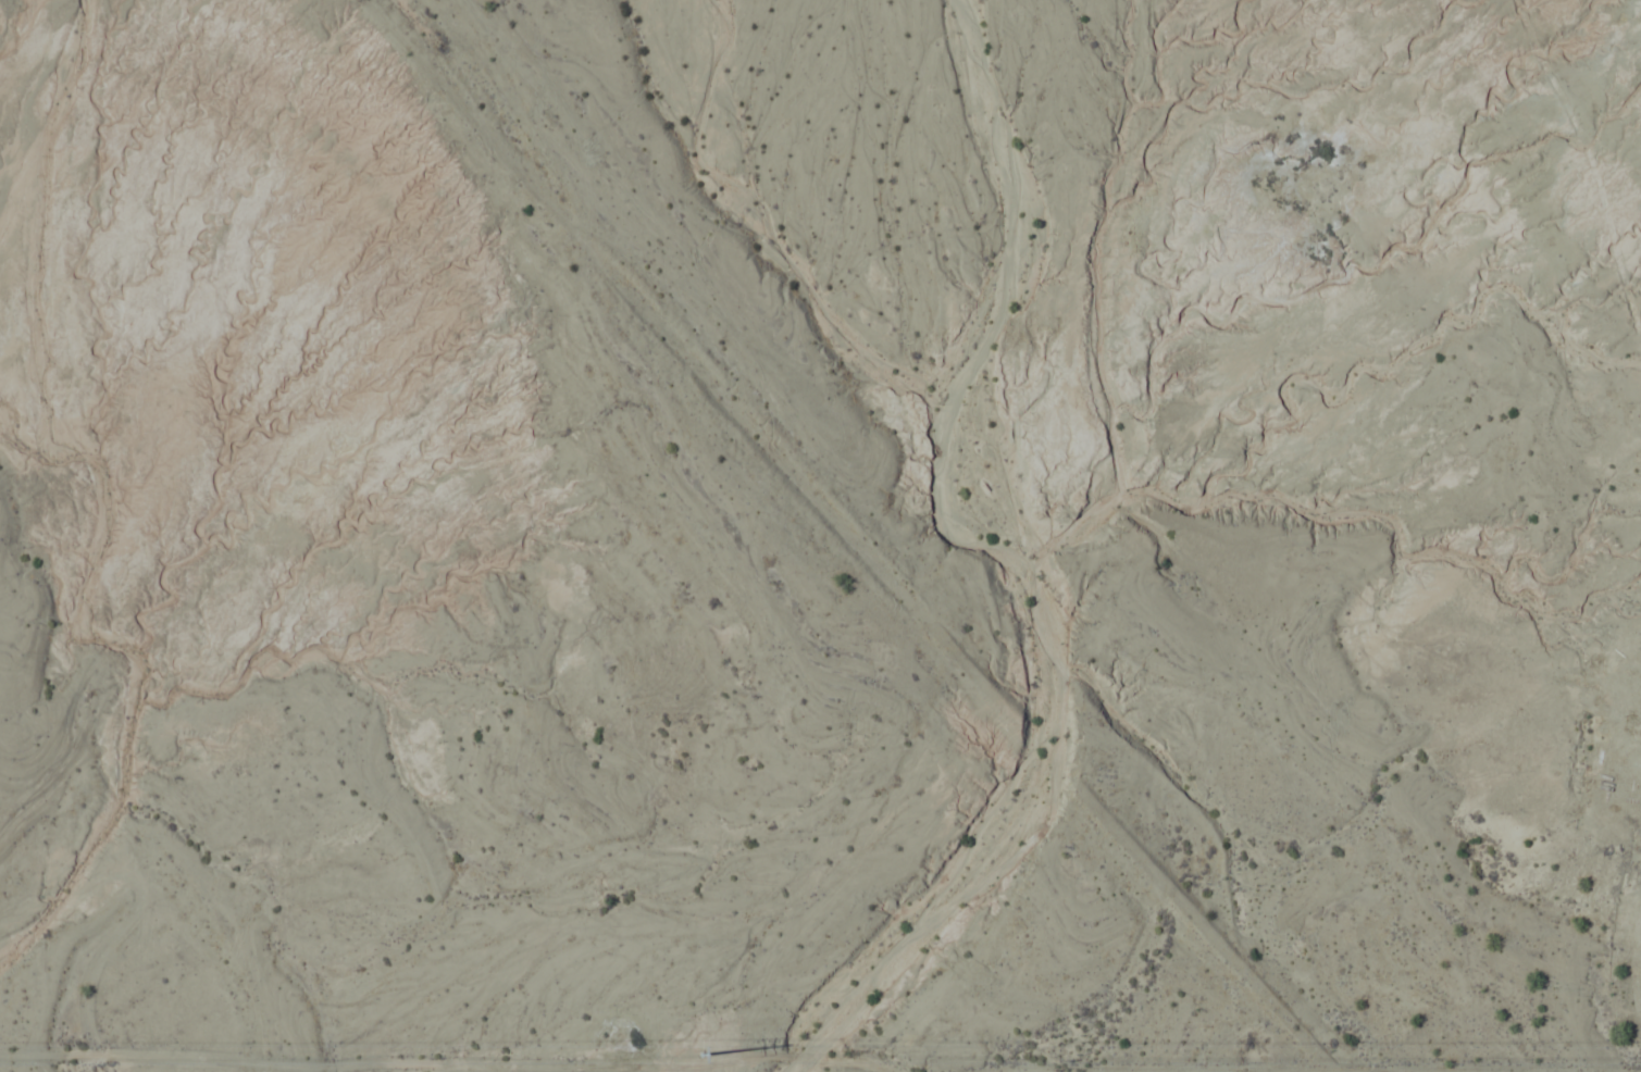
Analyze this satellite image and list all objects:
road: (1410, 1032)
power tower: (729, 1071)

